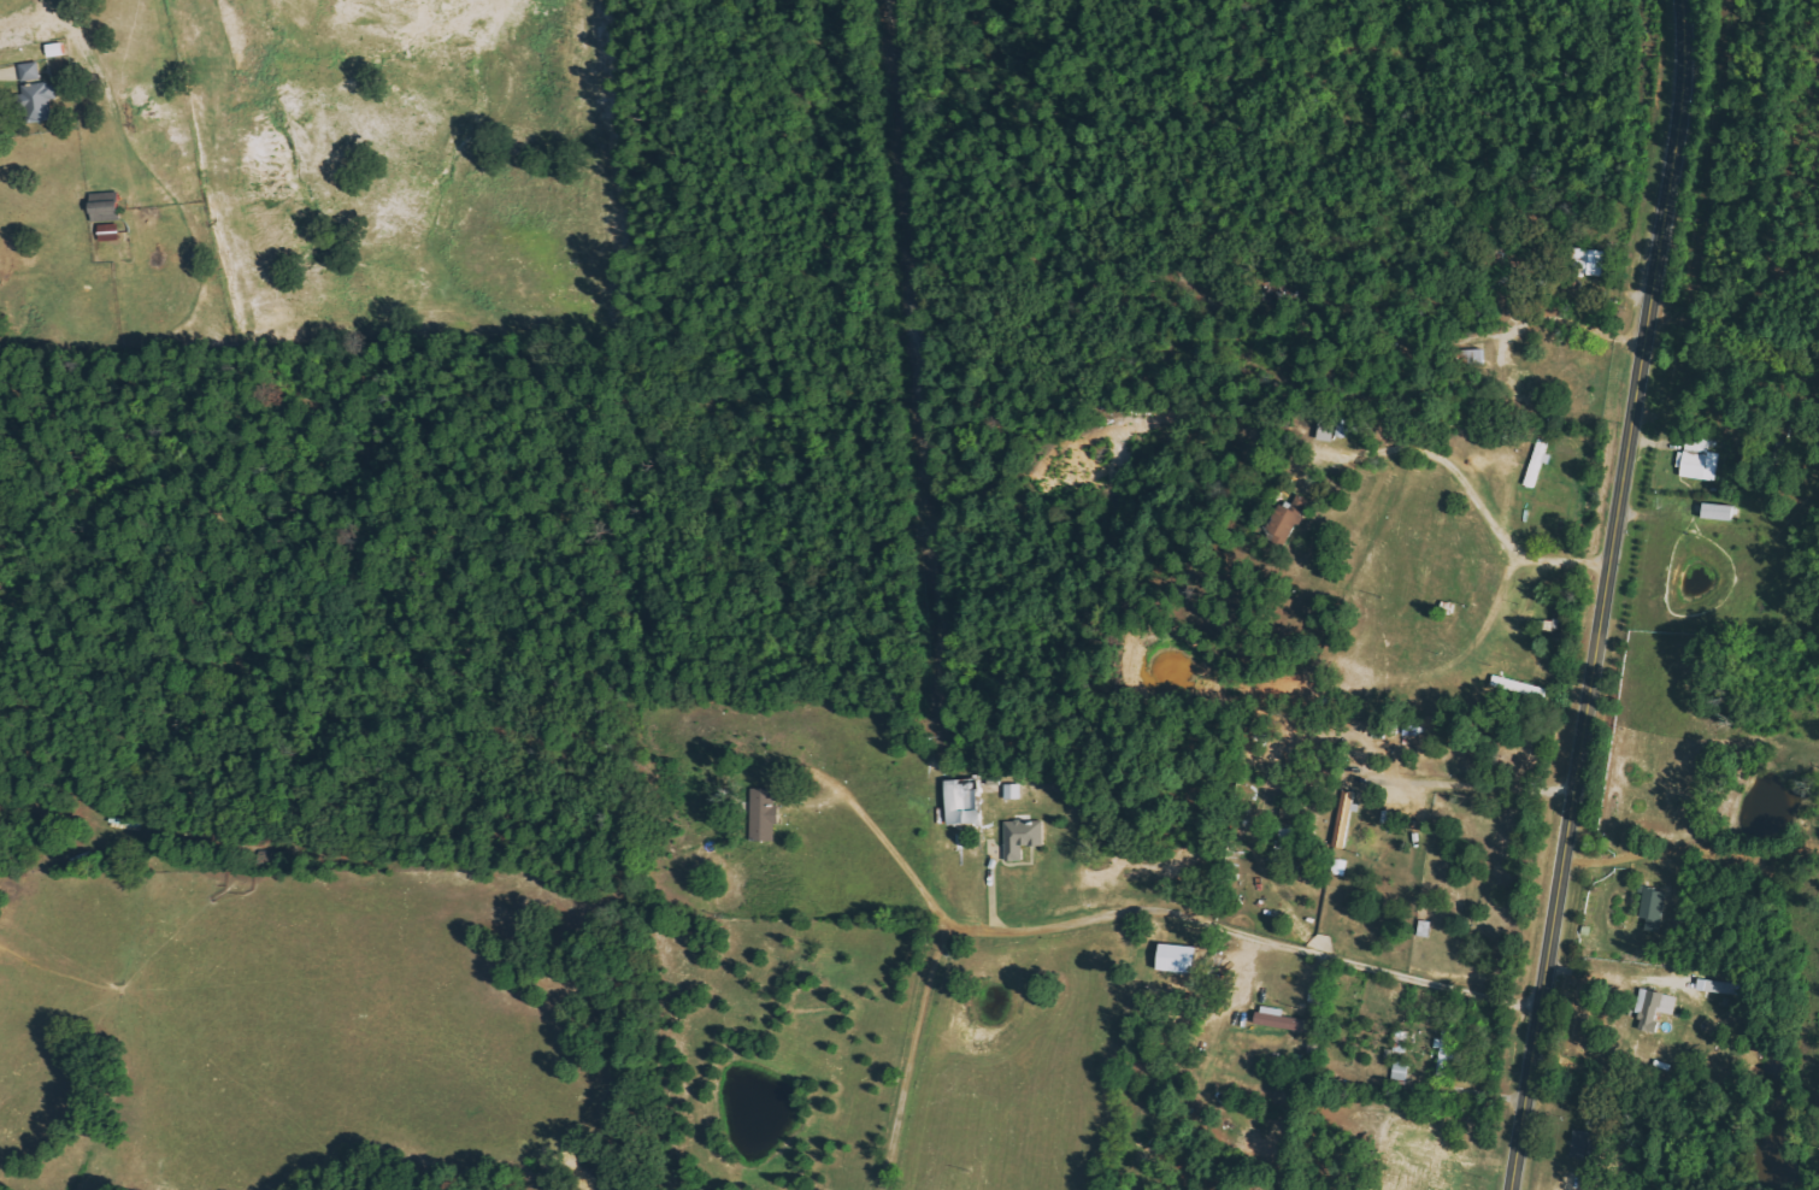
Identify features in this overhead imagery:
building: (35, 94)
building: (105, 207)
building: (108, 232)
building: (1588, 261)
building: (1473, 357)
building: (1334, 426)
building: (1699, 459)
building: (1718, 511)
building: (1288, 517)
road: (1603, 595)
building: (1519, 687)
building: (1012, 791)
building: (963, 801)
building: (764, 814)
building: (1344, 819)
building: (119, 825)
building: (1023, 837)
building: (1340, 867)
building: (1653, 908)
building: (1177, 958)
building: (1654, 1009)
building: (1401, 1041)
building: (1400, 1071)
building: (1583, 1145)

